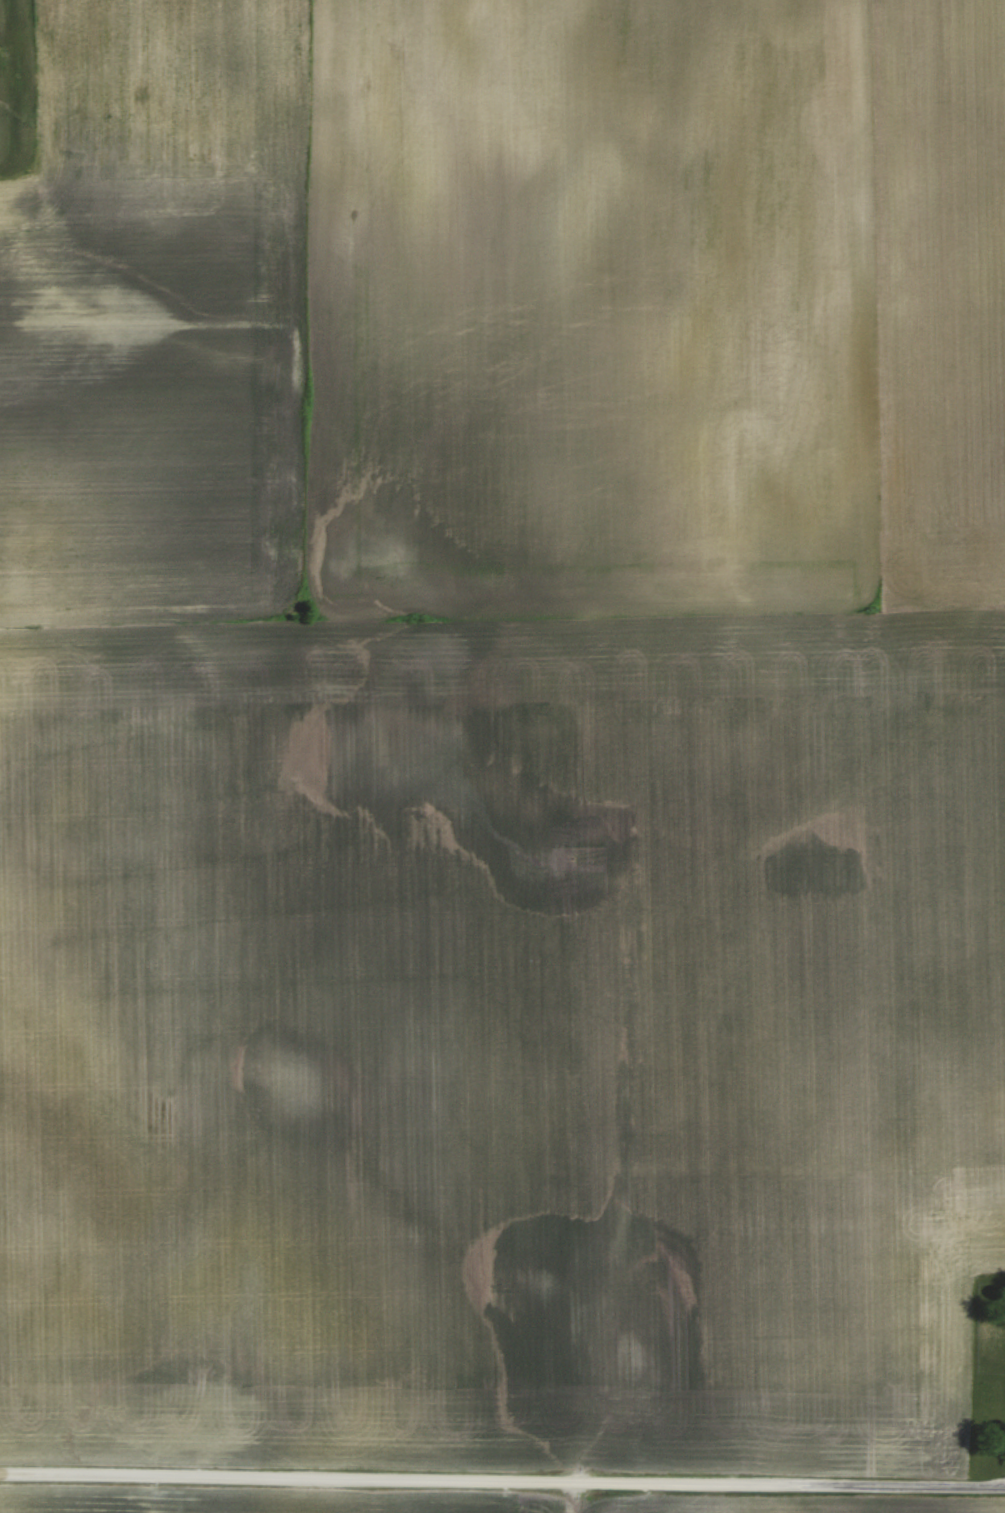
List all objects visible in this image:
road: (502, 1473)

